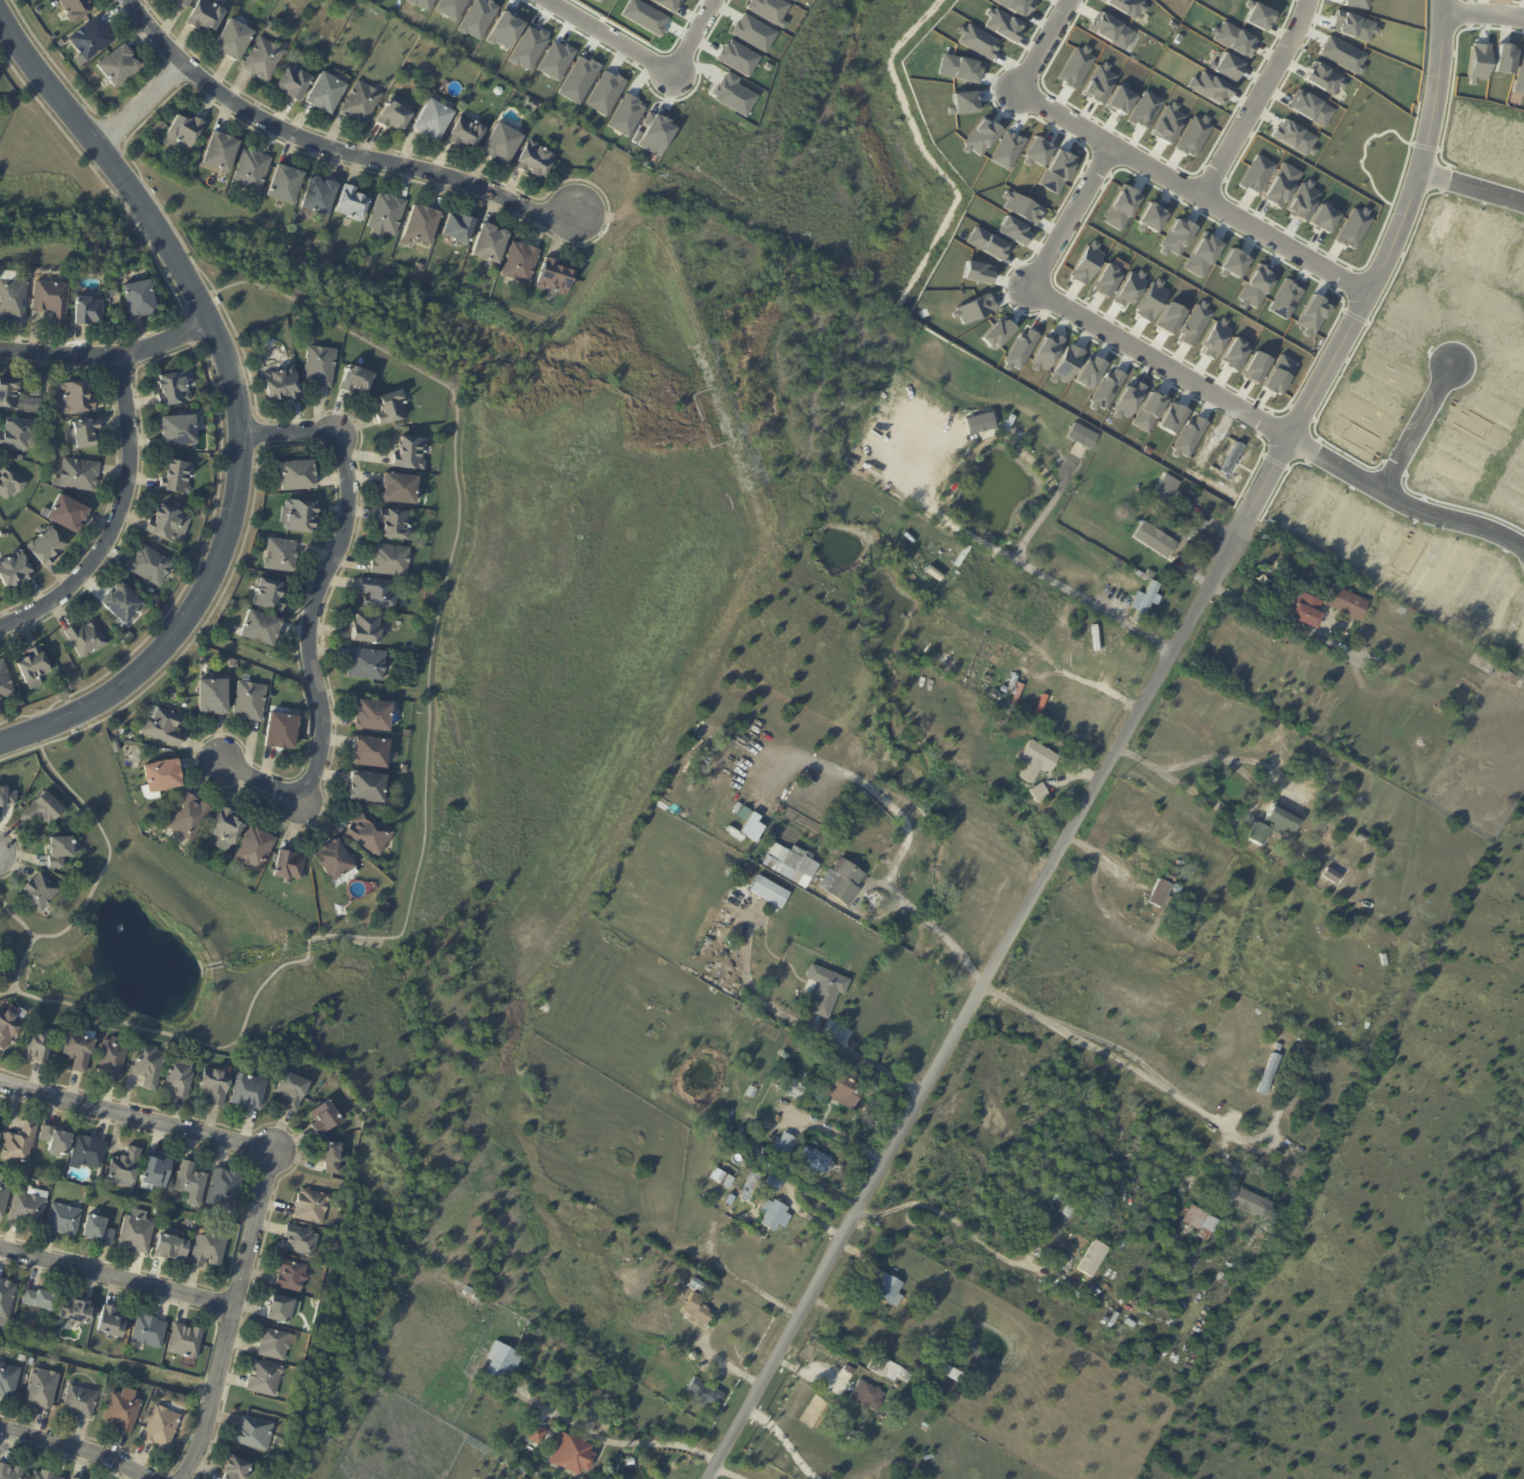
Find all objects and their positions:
building: (173, 0)
building: (792, 0)
building: (598, 1)
building: (185, 3)
building: (421, 3)
building: (666, 4)
building: (1357, 4)
building: (1015, 5)
building: (449, 7)
building: (1129, 7)
road: (1486, 9)
building: (76, 10)
building: (768, 10)
building: (39, 12)
building: (207, 16)
building: (644, 16)
building: (1257, 16)
building: (476, 18)
building: (269, 25)
building: (1002, 25)
building: (1356, 27)
building: (503, 29)
building: (1111, 30)
building: (753, 32)
road: (691, 36)
road: (608, 37)
building: (54, 38)
building: (1232, 39)
building: (92, 41)
building: (235, 41)
building: (977, 41)
building: (61, 45)
road: (1042, 46)
building: (528, 47)
building: (1342, 54)
building: (737, 57)
building: (266, 60)
building: (554, 60)
building: (1506, 60)
building: (1479, 63)
building: (118, 66)
building: (767, 66)
building: (1076, 66)
building: (1225, 66)
building: (960, 67)
building: (1520, 75)
building: (577, 79)
building: (1324, 81)
building: (1100, 83)
building: (295, 85)
building: (126, 86)
building: (1209, 87)
building: (604, 92)
building: (326, 94)
building: (733, 94)
road: (1259, 96)
building: (1122, 99)
building: (966, 102)
building: (363, 103)
building: (530, 106)
building: (1147, 109)
building: (1311, 109)
road: (137, 111)
building: (625, 115)
building: (395, 117)
building: (433, 121)
building: (1169, 123)
building: (183, 130)
building: (469, 135)
building: (654, 135)
building: (981, 135)
building: (1194, 136)
building: (1294, 136)
building: (504, 147)
building: (1006, 150)
building: (1038, 151)
building: (221, 152)
park: (835, 152)
road: (325, 158)
building: (536, 161)
building: (253, 171)
building: (1057, 171)
building: (1258, 173)
road: (1475, 176)
building: (287, 184)
building: (1281, 184)
road: (1199, 186)
building: (322, 197)
building: (1304, 200)
building: (354, 203)
building: (1022, 207)
building: (255, 208)
building: (1121, 210)
building: (387, 216)
road: (1072, 216)
building: (1150, 216)
building: (1325, 218)
building: (421, 226)
building: (1355, 227)
building: (458, 228)
building: (1013, 230)
building: (1176, 236)
building: (985, 242)
building: (491, 244)
building: (1202, 255)
building: (522, 262)
building: (1234, 264)
building: (1086, 266)
building: (420, 267)
building: (978, 271)
building: (556, 275)
building: (1107, 281)
building: (1257, 289)
building: (1130, 291)
building: (12, 296)
building: (142, 299)
building: (1286, 299)
building: (52, 300)
building: (1152, 300)
building: (976, 308)
building: (88, 311)
building: (1314, 314)
building: (1171, 317)
building: (1195, 324)
building: (996, 331)
building: (1217, 336)
building: (256, 346)
building: (1021, 349)
road: (162, 351)
building: (1047, 351)
building: (1236, 353)
building: (1068, 363)
building: (322, 366)
building: (1256, 366)
road: (55, 367)
building: (1090, 372)
building: (47, 374)
building: (1391, 374)
building: (1279, 375)
building: (356, 379)
building: (283, 384)
building: (38, 386)
building: (1108, 388)
building: (174, 390)
building: (1378, 392)
building: (10, 393)
building: (76, 398)
road: (233, 400)
building: (1129, 400)
building: (392, 409)
building: (1149, 411)
building: (1366, 412)
building: (1069, 416)
building: (1172, 418)
building: (980, 419)
road: (1272, 422)
road: (1421, 422)
building: (181, 430)
building: (1086, 433)
building: (86, 434)
building: (1190, 434)
building: (18, 435)
building: (1362, 437)
building: (855, 447)
building: (409, 454)
building: (21, 458)
building: (51, 460)
building: (78, 475)
building: (299, 476)
building: (177, 478)
building: (10, 483)
building: (400, 489)
building: (1163, 489)
building: (17, 502)
building: (67, 512)
building: (301, 516)
building: (395, 523)
building: (170, 524)
road: (111, 526)
building: (1151, 540)
building: (48, 547)
building: (283, 556)
building: (1024, 556)
building: (392, 561)
building: (151, 566)
building: (15, 570)
road: (1057, 587)
building: (152, 591)
building: (380, 594)
building: (270, 595)
building: (1143, 603)
building: (404, 604)
building: (1345, 604)
building: (127, 608)
building: (158, 610)
building: (1304, 611)
building: (261, 628)
building: (370, 630)
building: (134, 631)
road: (303, 633)
building: (129, 636)
building: (86, 639)
building: (1086, 639)
building: (1459, 647)
building: (418, 648)
building: (233, 663)
building: (368, 664)
building: (34, 669)
building: (1519, 683)
building: (5, 685)
building: (214, 696)
building: (252, 701)
building: (20, 703)
building: (377, 717)
building: (165, 728)
building: (283, 732)
building: (409, 734)
building: (116, 747)
building: (371, 752)
road: (1118, 753)
building: (1033, 761)
building: (404, 769)
building: (164, 776)
road: (1179, 782)
building: (368, 787)
building: (1038, 793)
building: (7, 797)
building: (44, 809)
building: (189, 818)
building: (1273, 822)
building: (228, 830)
building: (370, 833)
building: (1360, 838)
building: (256, 850)
building: (61, 851)
building: (831, 851)
building: (334, 861)
building: (790, 864)
building: (289, 867)
building: (728, 873)
building: (1329, 875)
building: (1169, 879)
building: (838, 883)
building: (40, 892)
building: (768, 893)
building: (1159, 895)
building: (386, 909)
road: (408, 910)
building: (1194, 914)
road: (16, 919)
building: (1183, 930)
road: (949, 940)
road: (7, 989)
building: (824, 991)
building: (10, 1026)
road: (804, 1029)
building: (38, 1045)
building: (80, 1049)
road: (1109, 1057)
building: (113, 1058)
building: (150, 1065)
building: (1266, 1075)
building: (180, 1077)
building: (163, 1083)
building: (216, 1085)
building: (791, 1087)
building: (294, 1089)
building: (835, 1090)
building: (250, 1091)
building: (748, 1092)
building: (326, 1118)
road: (1119, 1127)
road: (839, 1136)
building: (752, 1139)
building: (56, 1141)
building: (21, 1143)
building: (782, 1147)
building: (89, 1151)
building: (335, 1156)
building: (815, 1161)
building: (128, 1165)
building: (157, 1171)
building: (721, 1179)
building: (193, 1183)
building: (47, 1184)
building: (770, 1184)
road: (260, 1185)
building: (749, 1185)
building: (225, 1189)
building: (4, 1197)
building: (1200, 1200)
building: (165, 1203)
building: (1245, 1203)
building: (30, 1206)
building: (313, 1206)
building: (819, 1208)
building: (157, 1211)
building: (1067, 1212)
building: (772, 1216)
building: (64, 1219)
building: (1189, 1220)
road: (962, 1228)
building: (100, 1230)
building: (1203, 1230)
building: (138, 1232)
building: (302, 1241)
building: (794, 1241)
building: (174, 1246)
building: (1120, 1246)
building: (210, 1247)
building: (1091, 1260)
building: (293, 1275)
road: (116, 1276)
road: (741, 1282)
building: (695, 1285)
building: (883, 1288)
building: (42, 1299)
building: (6, 1301)
building: (281, 1309)
building: (75, 1311)
building: (694, 1311)
building: (111, 1323)
building: (151, 1332)
building: (187, 1341)
building: (276, 1344)
building: (934, 1350)
building: (693, 1355)
building: (620, 1356)
building: (498, 1363)
building: (886, 1370)
building: (949, 1373)
building: (266, 1378)
building: (9, 1380)
building: (43, 1387)
building: (938, 1391)
building: (107, 1393)
building: (702, 1393)
building: (866, 1394)
building: (81, 1402)
building: (124, 1412)
building: (895, 1426)
building: (163, 1427)
building: (255, 1433)
building: (531, 1434)
road: (789, 1440)
road: (610, 1444)
road: (75, 1447)
building: (572, 1455)
building: (237, 1469)
building: (12, 1472)
road: (726, 1474)
building: (46, 1475)
building: (72, 1478)

